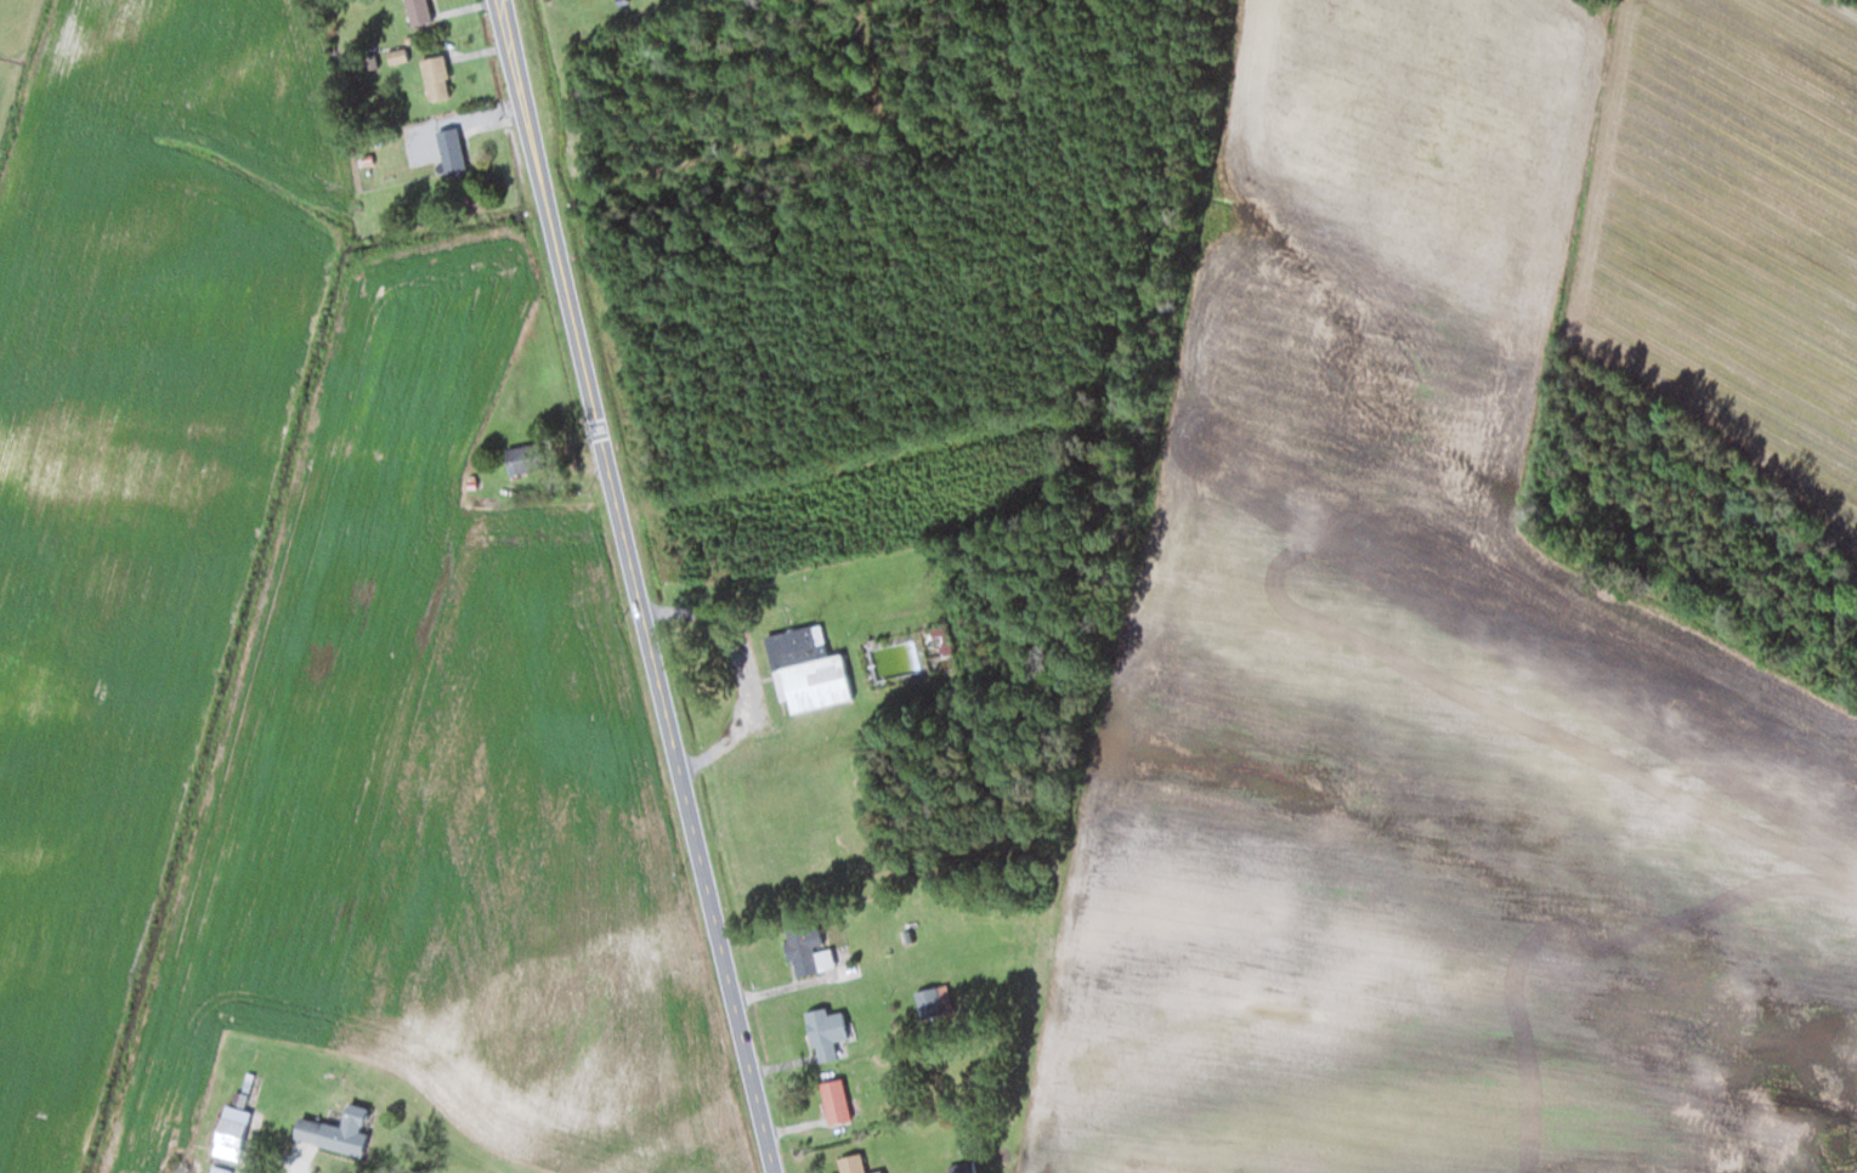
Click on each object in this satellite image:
building: (415, 11)
building: (434, 75)
building: (448, 148)
road: (636, 586)
building: (940, 639)
building: (806, 669)
building: (911, 935)
building: (800, 947)
building: (933, 1001)
building: (823, 1032)
building: (833, 1100)
building: (333, 1130)
building: (230, 1132)
building: (850, 1163)
building: (958, 1167)

